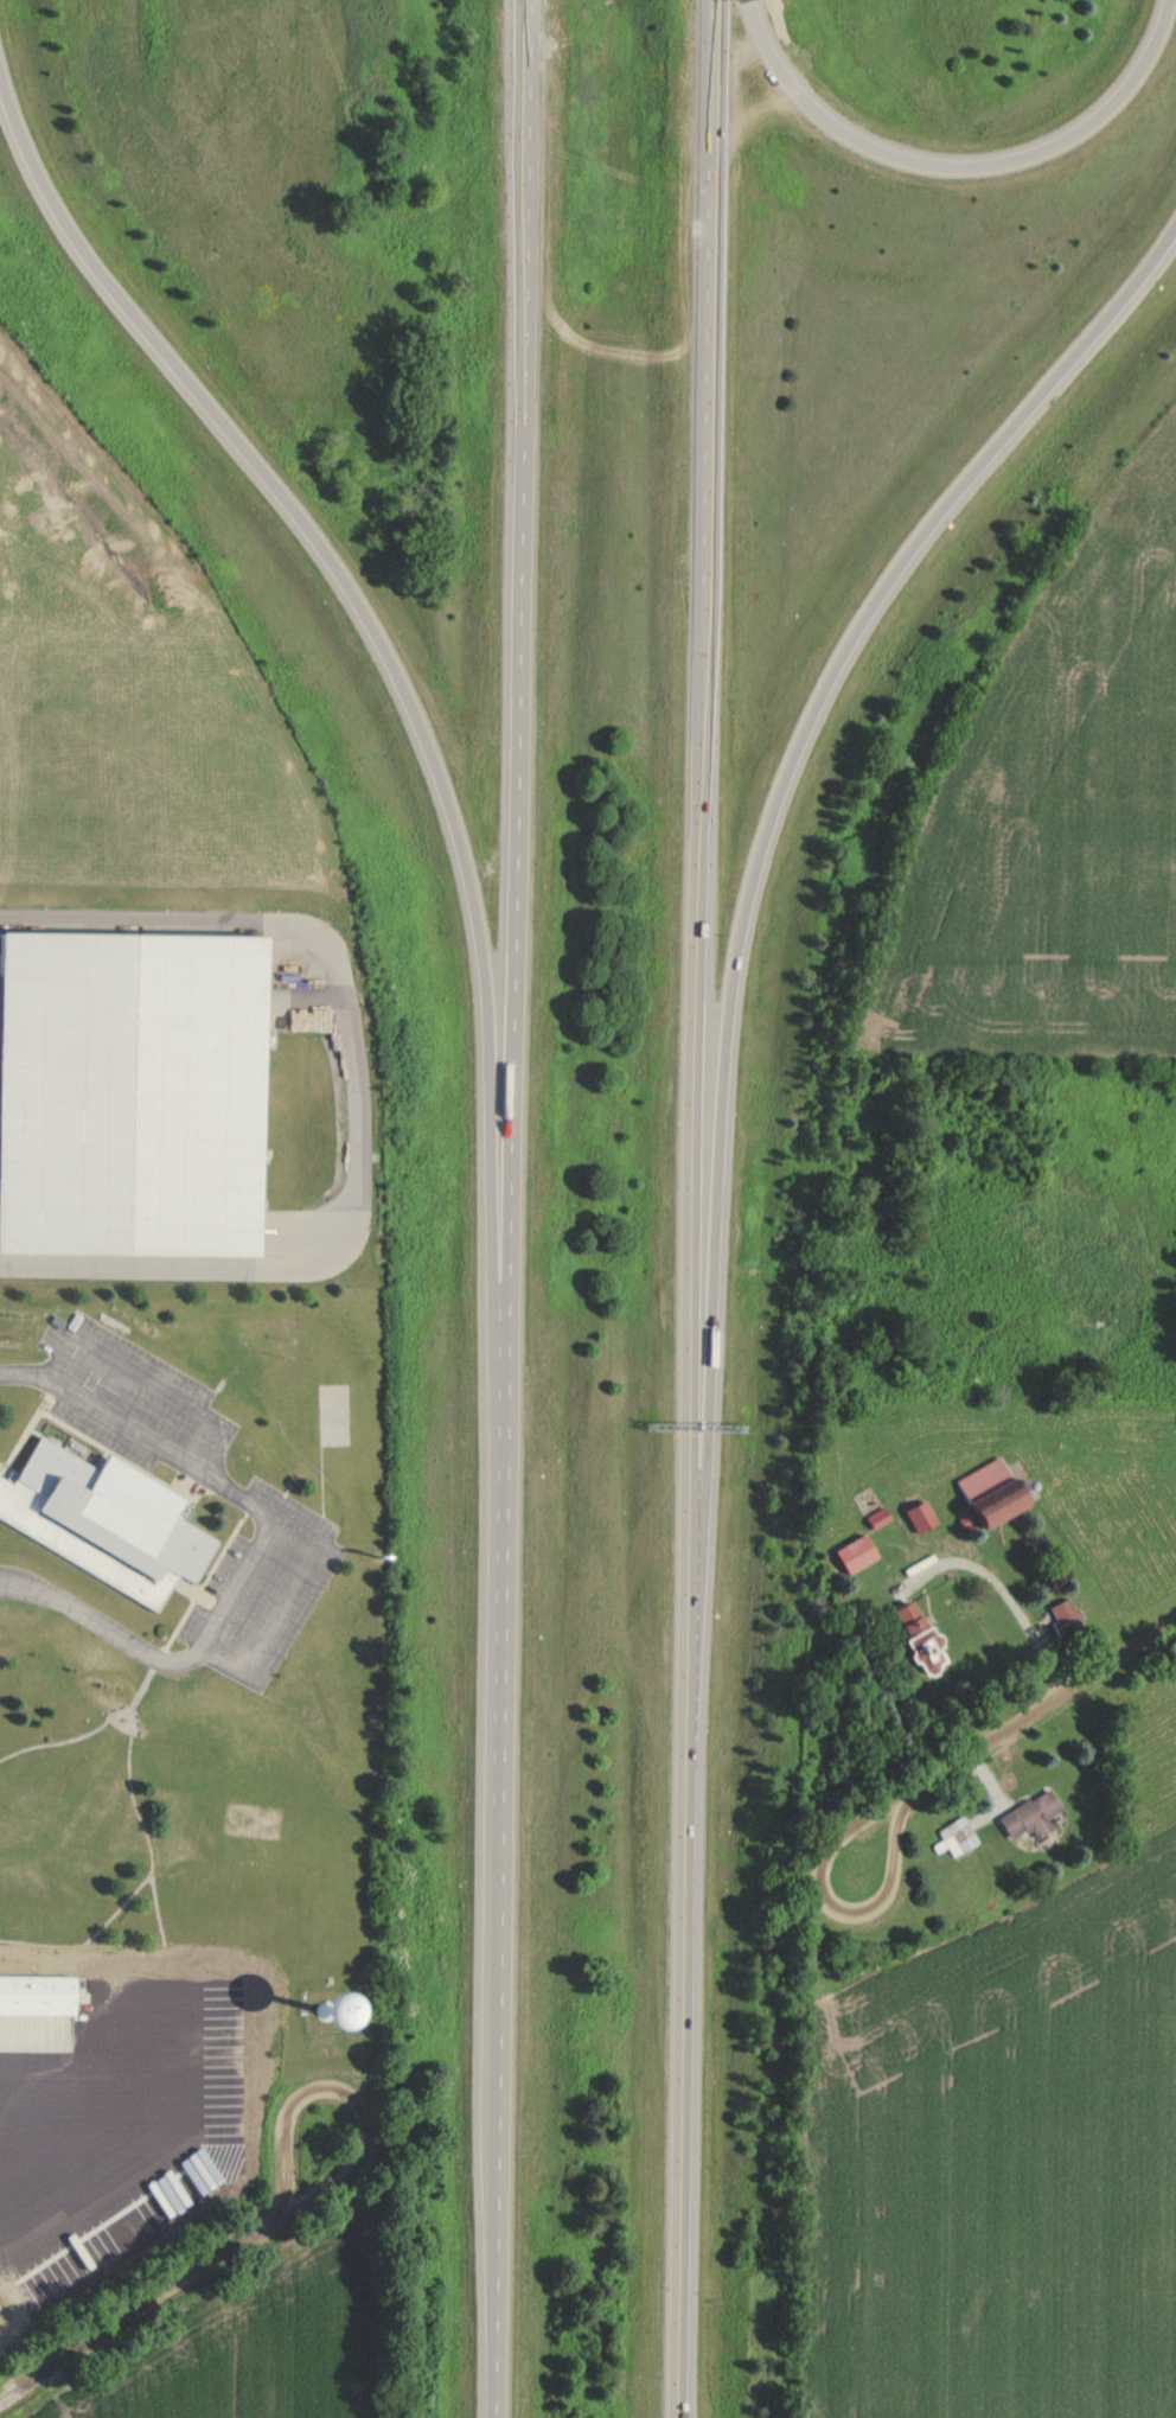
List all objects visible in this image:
road: (960, 161)
road: (391, 657)
road: (759, 865)
building: (132, 1096)
road: (362, 1100)
road: (517, 1208)
road: (697, 1208)
road: (145, 1378)
building: (991, 1489)
road: (244, 1497)
building: (919, 1513)
building: (877, 1516)
building: (103, 1519)
building: (855, 1551)
road: (1005, 1595)
building: (1065, 1619)
building: (916, 1635)
road: (166, 1659)
road: (145, 1682)
road: (1038, 1709)
road: (119, 1723)
road: (68, 1737)
building: (1030, 1814)
building: (955, 1835)
road: (833, 1910)
road: (83, 1945)
road: (68, 1952)
building: (320, 2005)
water tower: (325, 2009)
road: (184, 2035)
road: (298, 2203)
road: (9, 2391)

